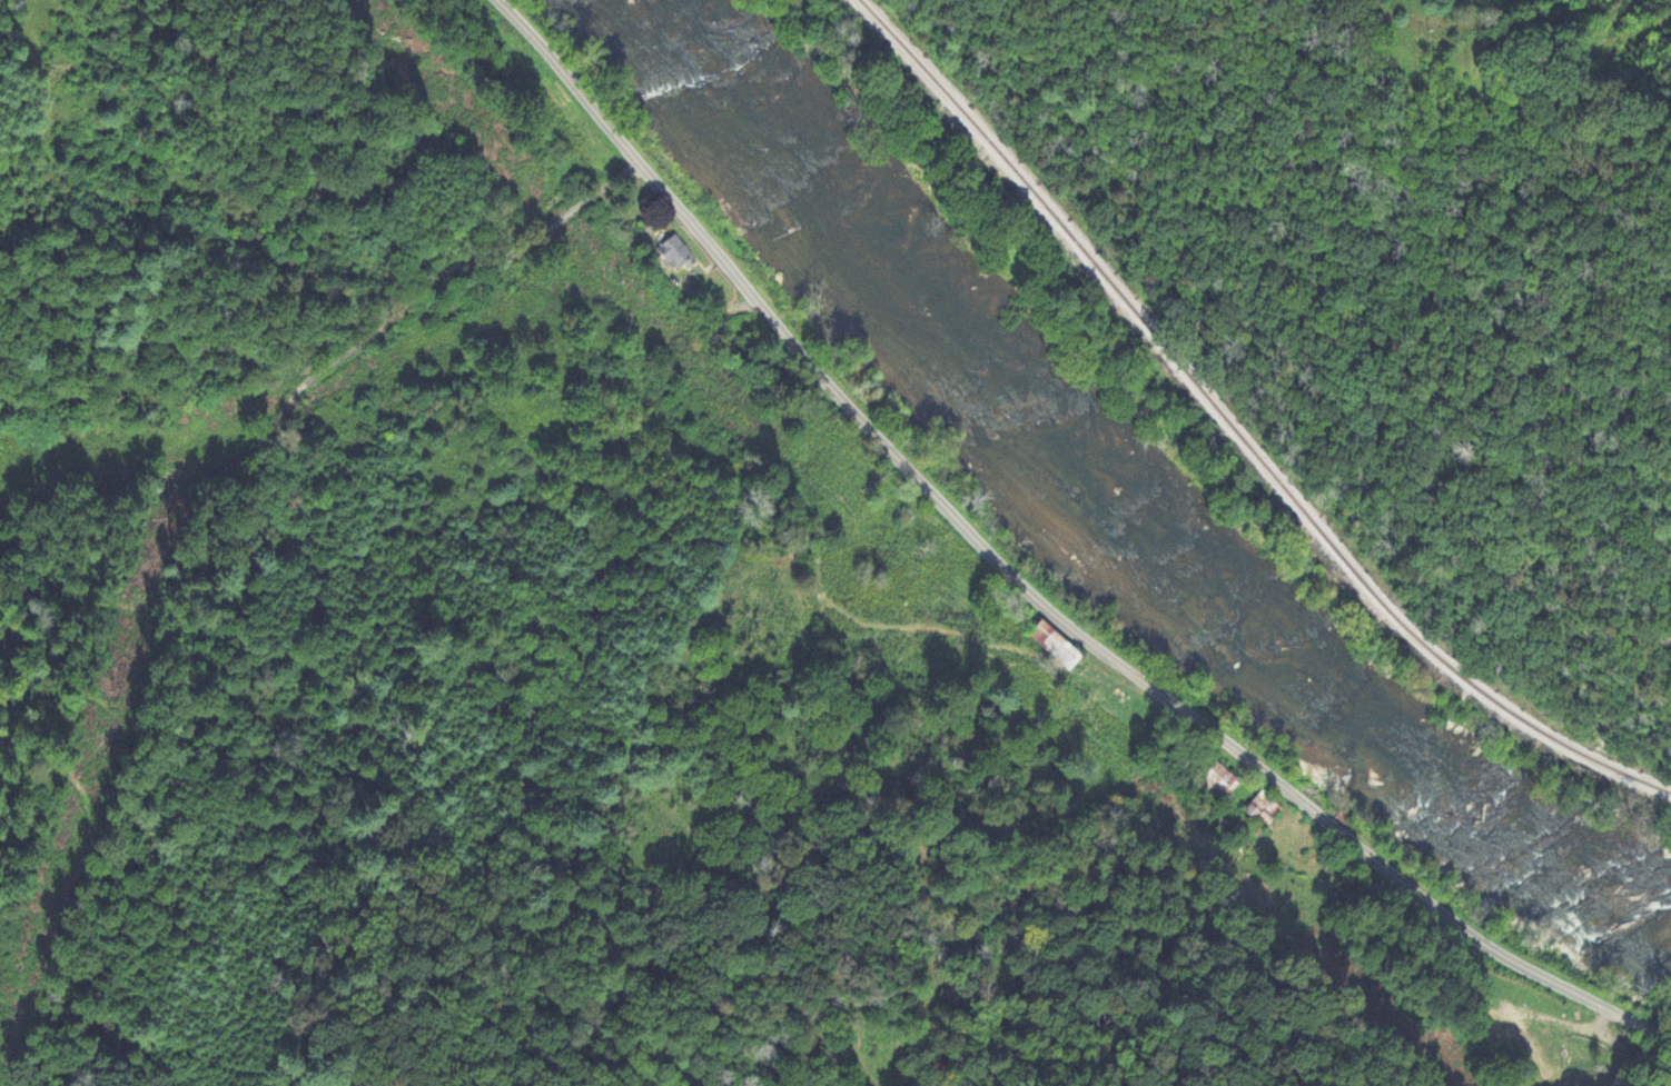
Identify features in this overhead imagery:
building: (675, 256)
railway: (1234, 434)
river: (1091, 531)
road: (1024, 587)
building: (1496, 1032)

